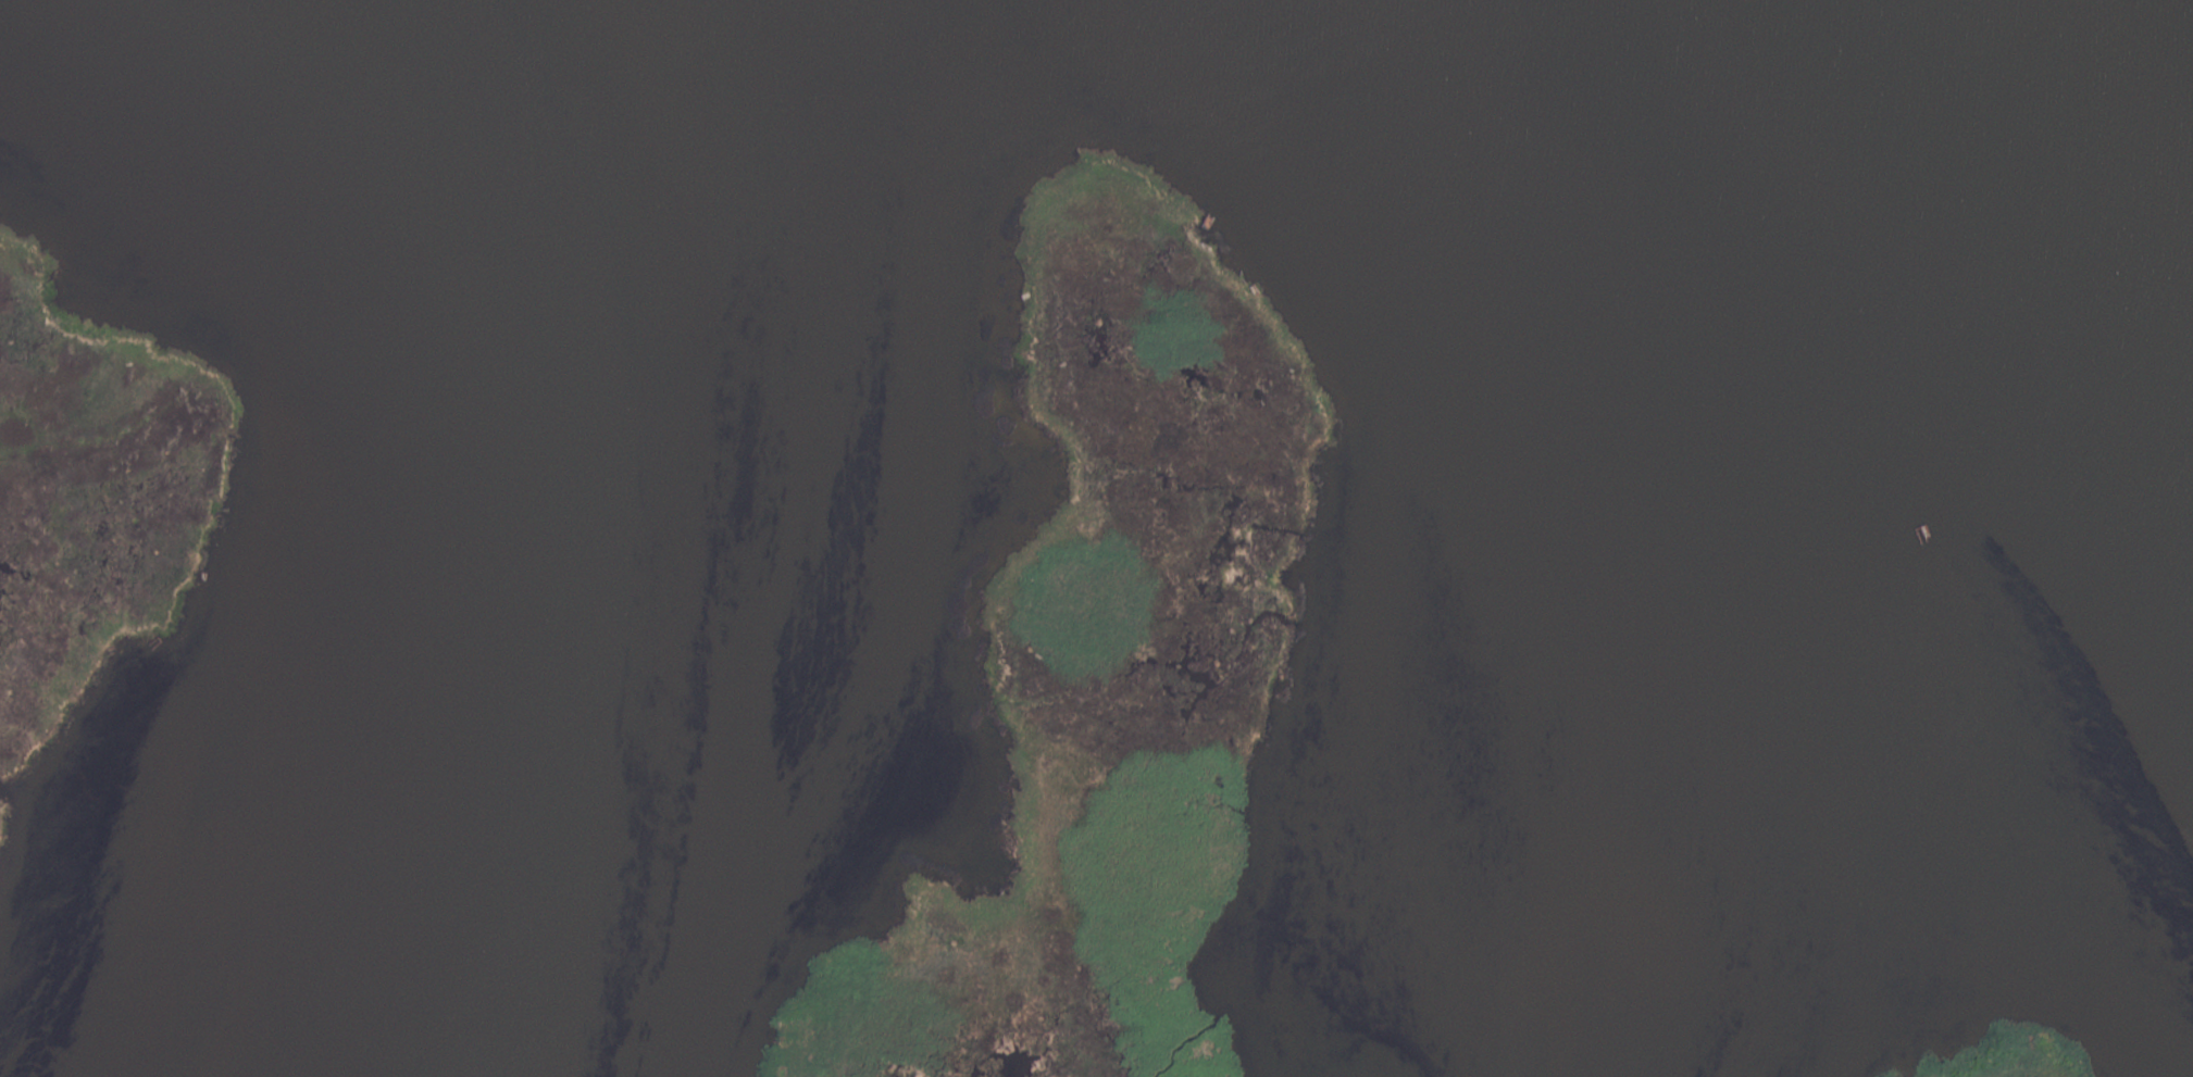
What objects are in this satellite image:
river: (1948, 342)

